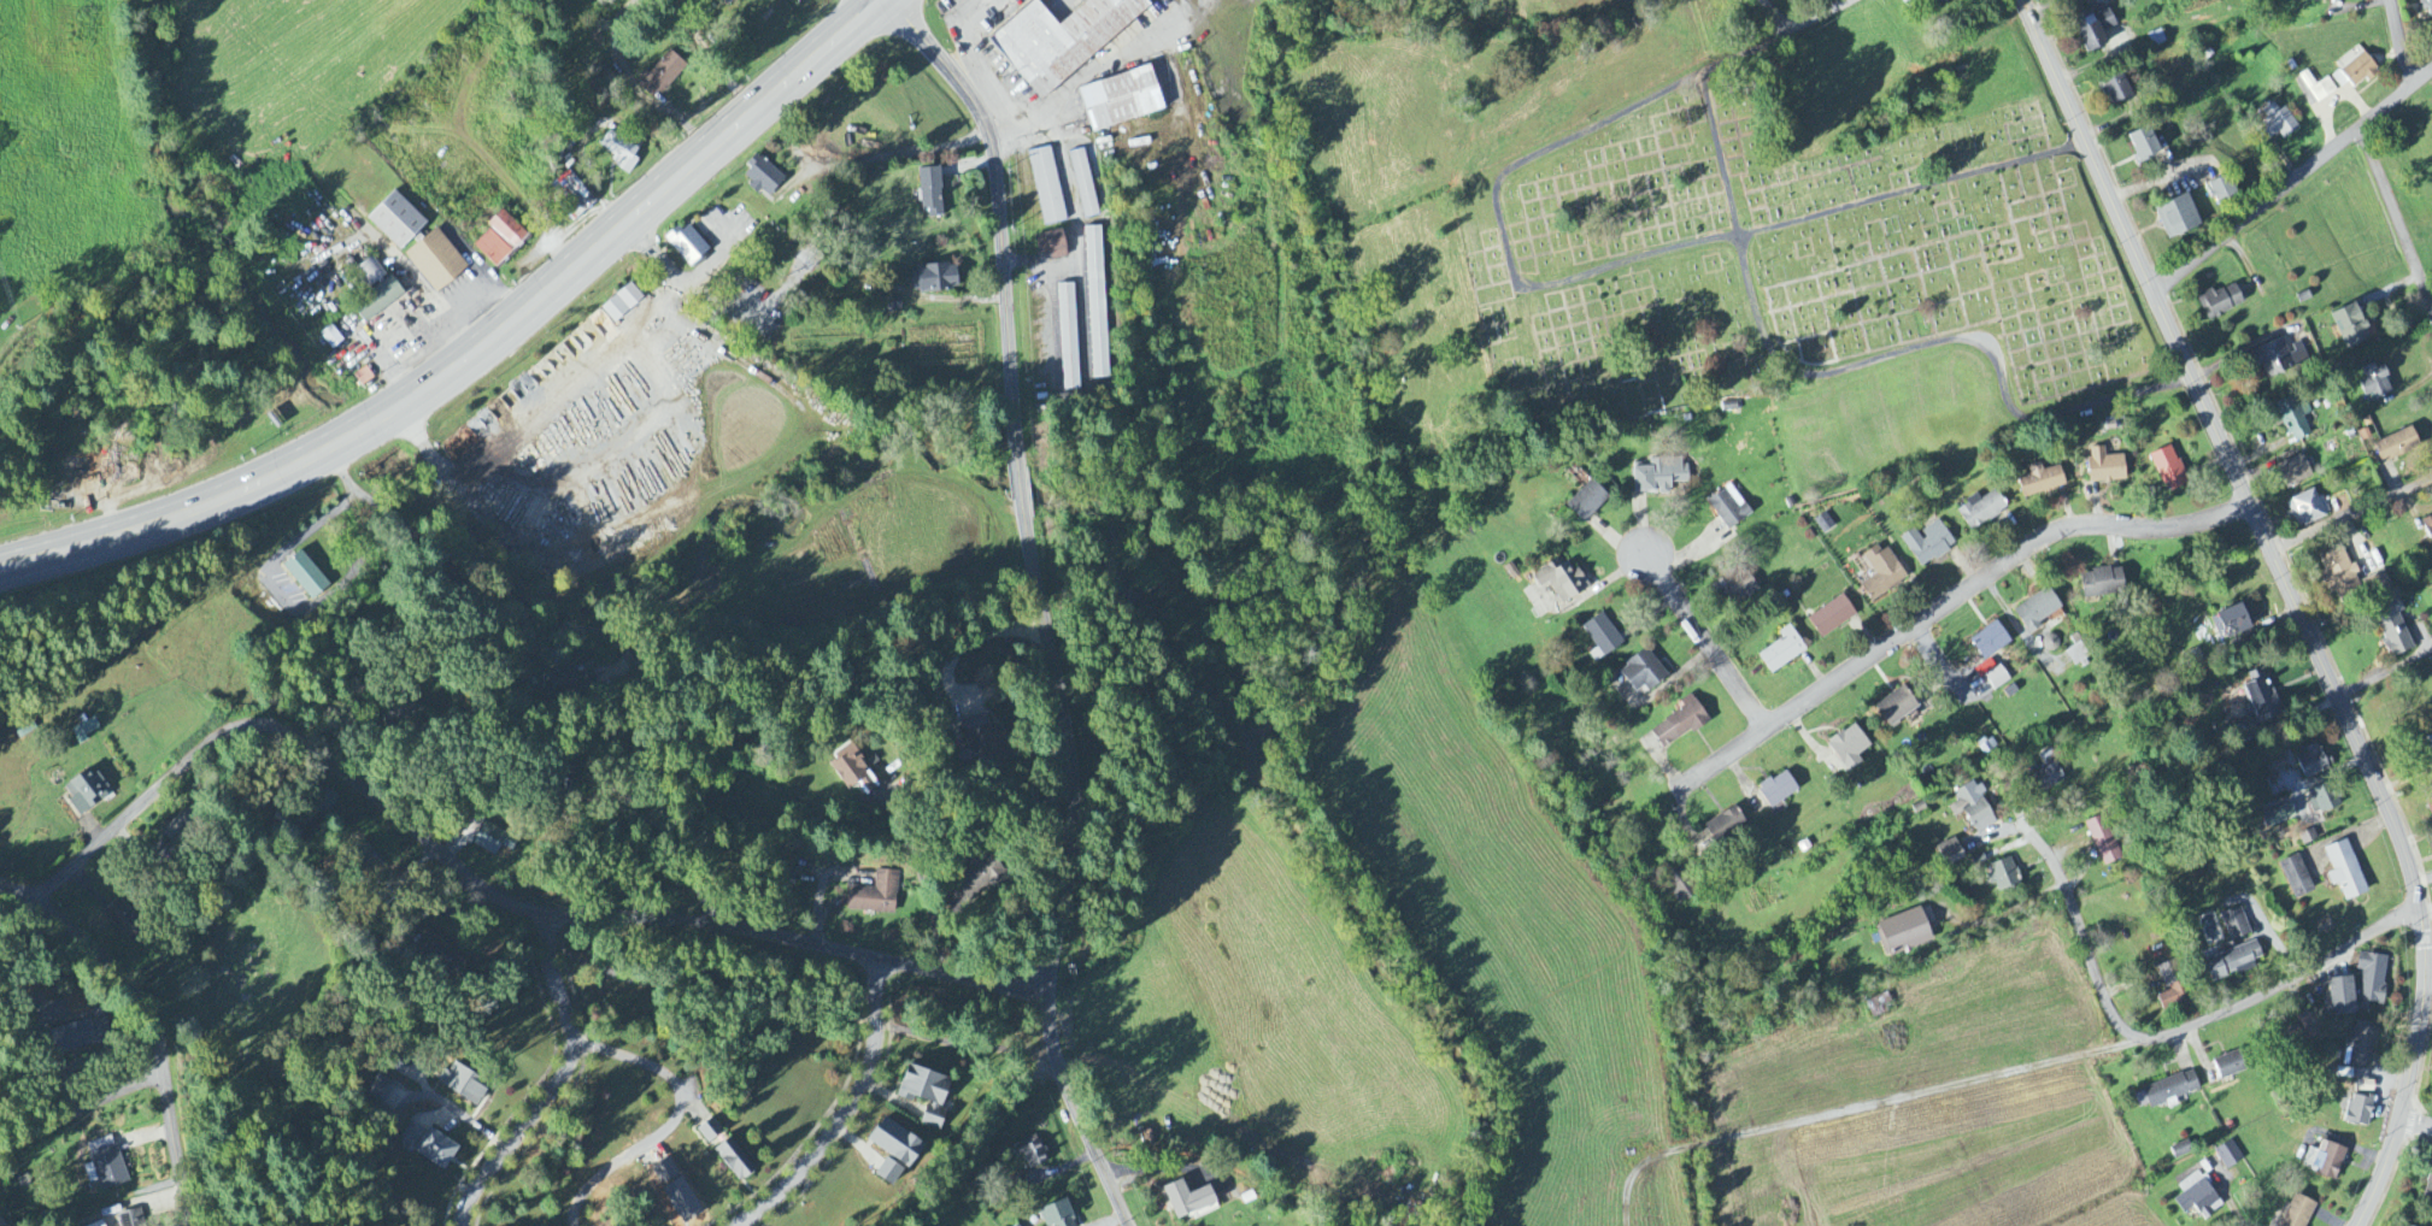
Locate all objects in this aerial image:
building: (717, 0)
building: (1937, 2)
building: (2427, 7)
road: (867, 13)
road: (1775, 17)
building: (2093, 30)
road: (1775, 39)
building: (1061, 40)
road: (2399, 43)
road: (977, 49)
building: (2354, 71)
building: (660, 76)
road: (1085, 76)
building: (2318, 88)
building: (2116, 89)
building: (1120, 100)
building: (2431, 113)
road: (638, 116)
building: (2277, 122)
building: (2144, 146)
building: (619, 149)
building: (762, 177)
road: (2161, 181)
road: (2293, 182)
building: (1083, 185)
building: (1046, 188)
building: (2221, 191)
building: (930, 193)
building: (571, 195)
road: (1000, 211)
building: (2177, 217)
road: (1075, 218)
road: (2396, 219)
building: (395, 222)
building: (499, 240)
building: (686, 246)
building: (1051, 246)
park: (1811, 258)
road: (1637, 259)
building: (435, 261)
road: (400, 269)
building: (369, 273)
building: (933, 279)
building: (377, 301)
building: (2219, 302)
building: (622, 303)
building: (1097, 303)
building: (892, 305)
building: (1068, 338)
building: (2279, 358)
road: (463, 360)
road: (1860, 365)
building: (2374, 383)
building: (2296, 422)
building: (2397, 447)
building: (2104, 467)
building: (2168, 471)
building: (2293, 472)
building: (1659, 477)
building: (2040, 482)
road: (1021, 488)
building: (1586, 502)
building: (1728, 508)
building: (2307, 509)
building: (1981, 511)
road: (2352, 515)
building: (1823, 525)
building: (2427, 527)
building: (1927, 544)
road: (456, 566)
building: (1881, 574)
building: (305, 576)
building: (2339, 579)
building: (1559, 582)
building: (2101, 584)
building: (2375, 584)
building: (1740, 590)
road: (2295, 601)
road: (1944, 606)
building: (2037, 611)
building: (1831, 618)
building: (2230, 624)
building: (2393, 632)
building: (1602, 636)
road: (971, 639)
road: (1702, 641)
building: (1989, 642)
building: (1781, 652)
building: (2078, 655)
building: (1641, 673)
building: (569, 680)
building: (2261, 699)
building: (1895, 708)
building: (406, 717)
building: (1679, 725)
building: (979, 743)
road: (1069, 749)
building: (1848, 749)
building: (2426, 750)
building: (2050, 758)
building: (2314, 762)
building: (846, 770)
building: (2052, 778)
building: (1776, 791)
building: (86, 792)
building: (2324, 800)
building: (2430, 804)
building: (1973, 809)
building: (2278, 817)
building: (1725, 826)
building: (497, 836)
road: (669, 836)
building: (2103, 842)
building: (2431, 847)
building: (1949, 854)
building: (2344, 872)
building: (2003, 877)
building: (977, 878)
building: (2296, 878)
building: (1681, 886)
road: (486, 889)
building: (875, 895)
road: (2004, 914)
building: (2234, 926)
building: (1903, 933)
building: (451, 962)
building: (2232, 963)
park: (266, 977)
building: (2372, 982)
building: (2173, 992)
building: (2340, 998)
building: (1879, 1007)
road: (157, 1019)
road: (1047, 1020)
road: (2133, 1033)
building: (77, 1036)
building: (2361, 1045)
building: (2230, 1067)
building: (396, 1068)
road: (556, 1081)
building: (460, 1085)
building: (2366, 1088)
building: (380, 1090)
building: (2166, 1092)
building: (924, 1095)
road: (421, 1096)
road: (1923, 1096)
road: (80, 1109)
road: (846, 1113)
building: (2358, 1113)
road: (672, 1121)
road: (2416, 1124)
building: (710, 1131)
road: (2414, 1137)
road: (979, 1138)
road: (1085, 1139)
building: (893, 1143)
building: (429, 1147)
building: (1033, 1153)
building: (2228, 1156)
building: (732, 1161)
building: (2324, 1162)
building: (106, 1163)
building: (887, 1173)
building: (2428, 1190)
building: (2197, 1198)
building: (1188, 1201)
road: (2239, 1212)
building: (2297, 1213)
building: (1056, 1215)
building: (130, 1219)
building: (1, 1221)
building: (102, 1225)

